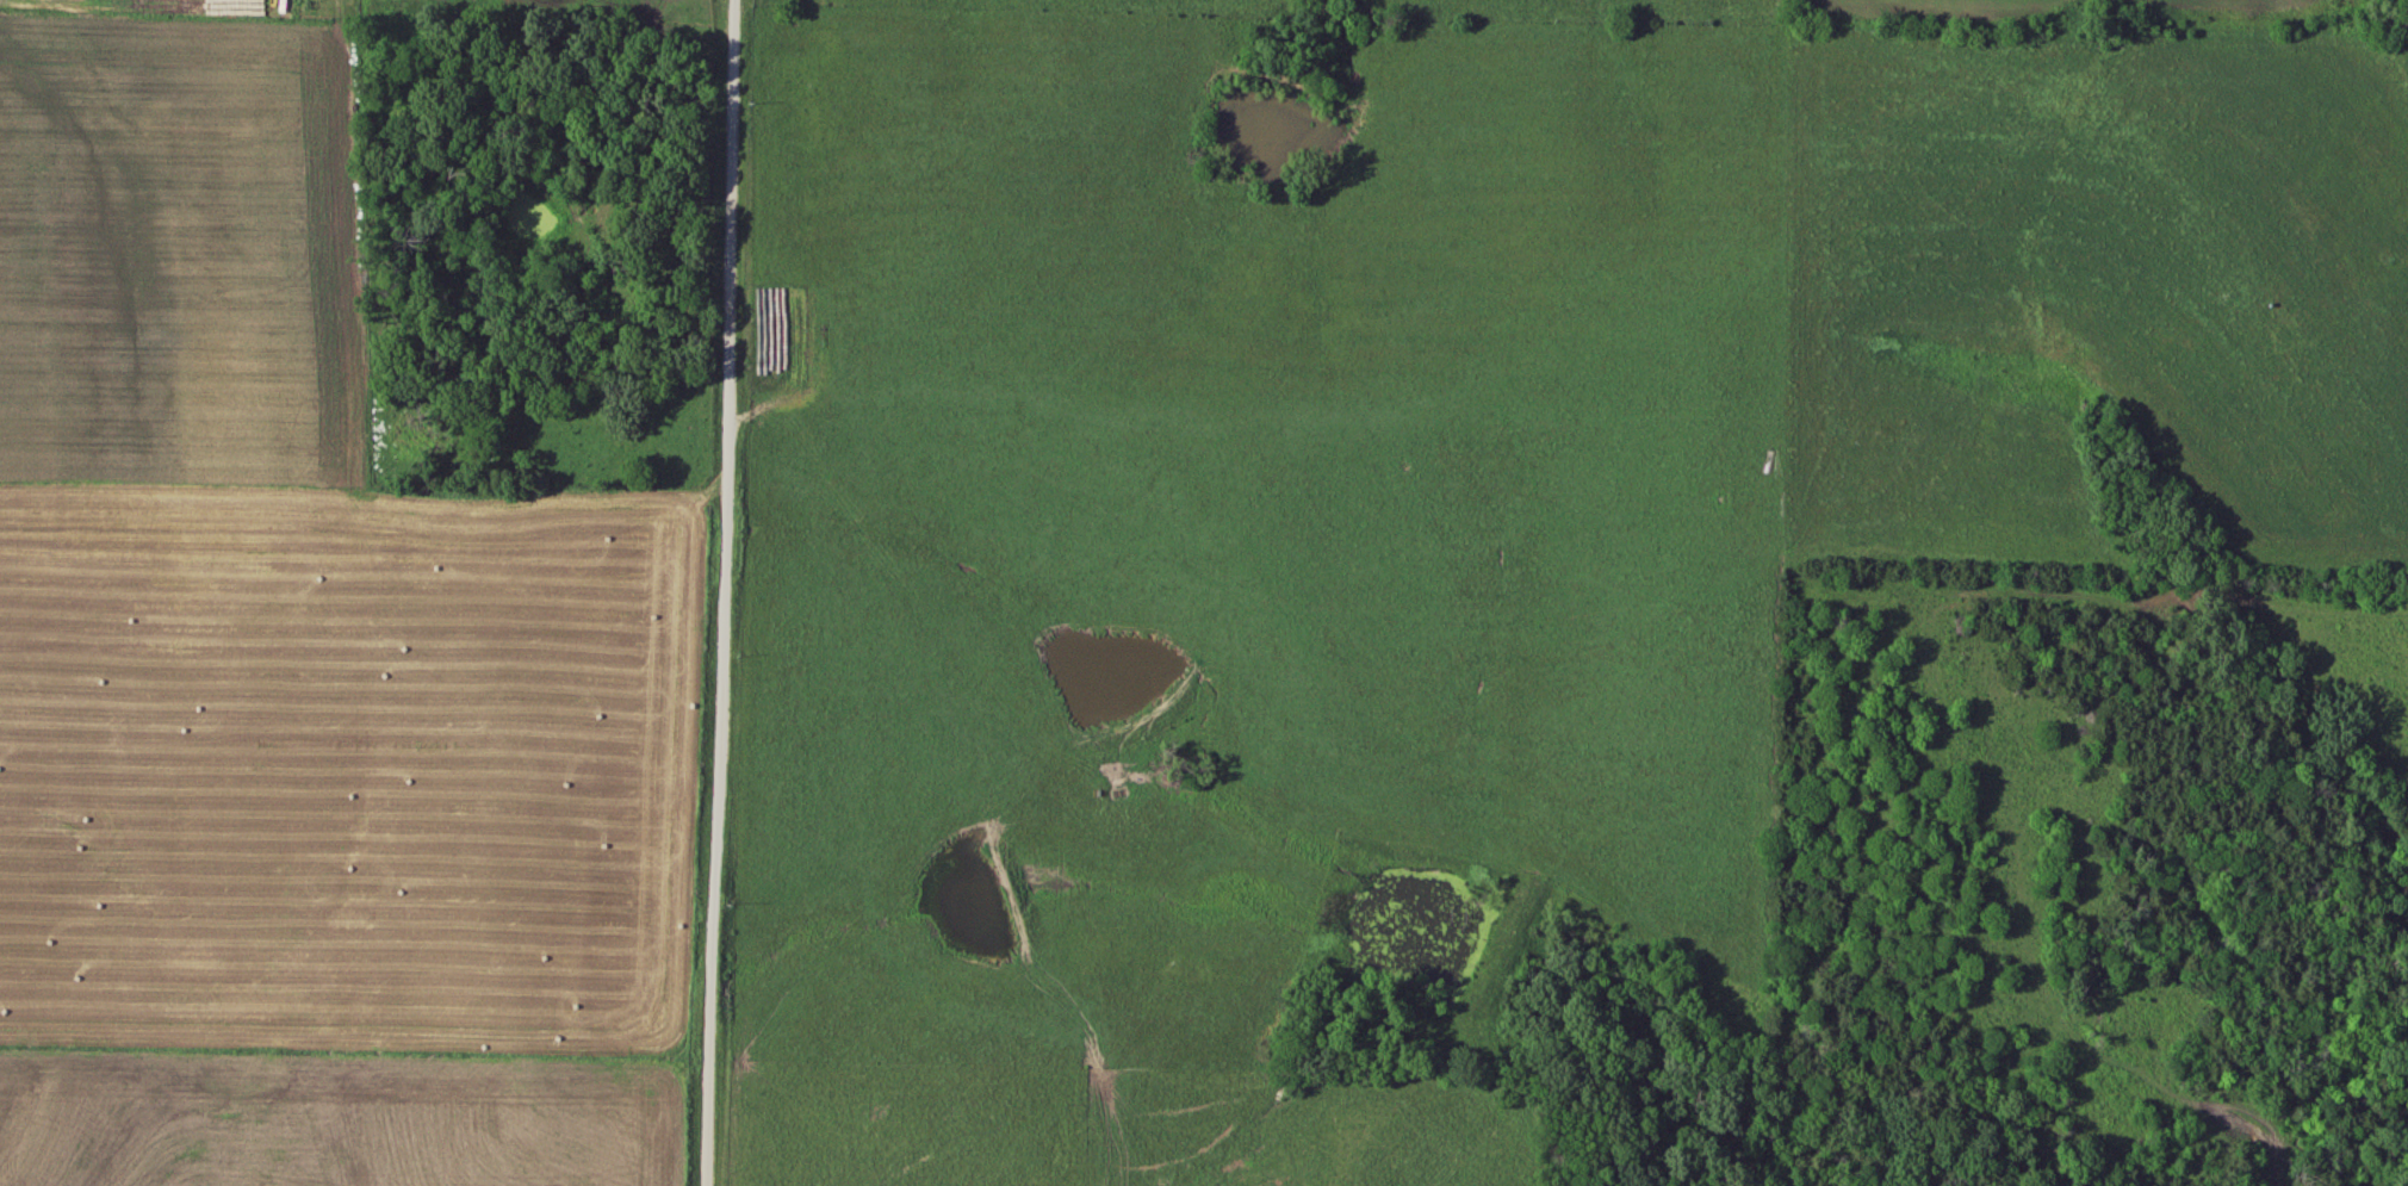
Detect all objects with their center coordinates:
road: (722, 592)

